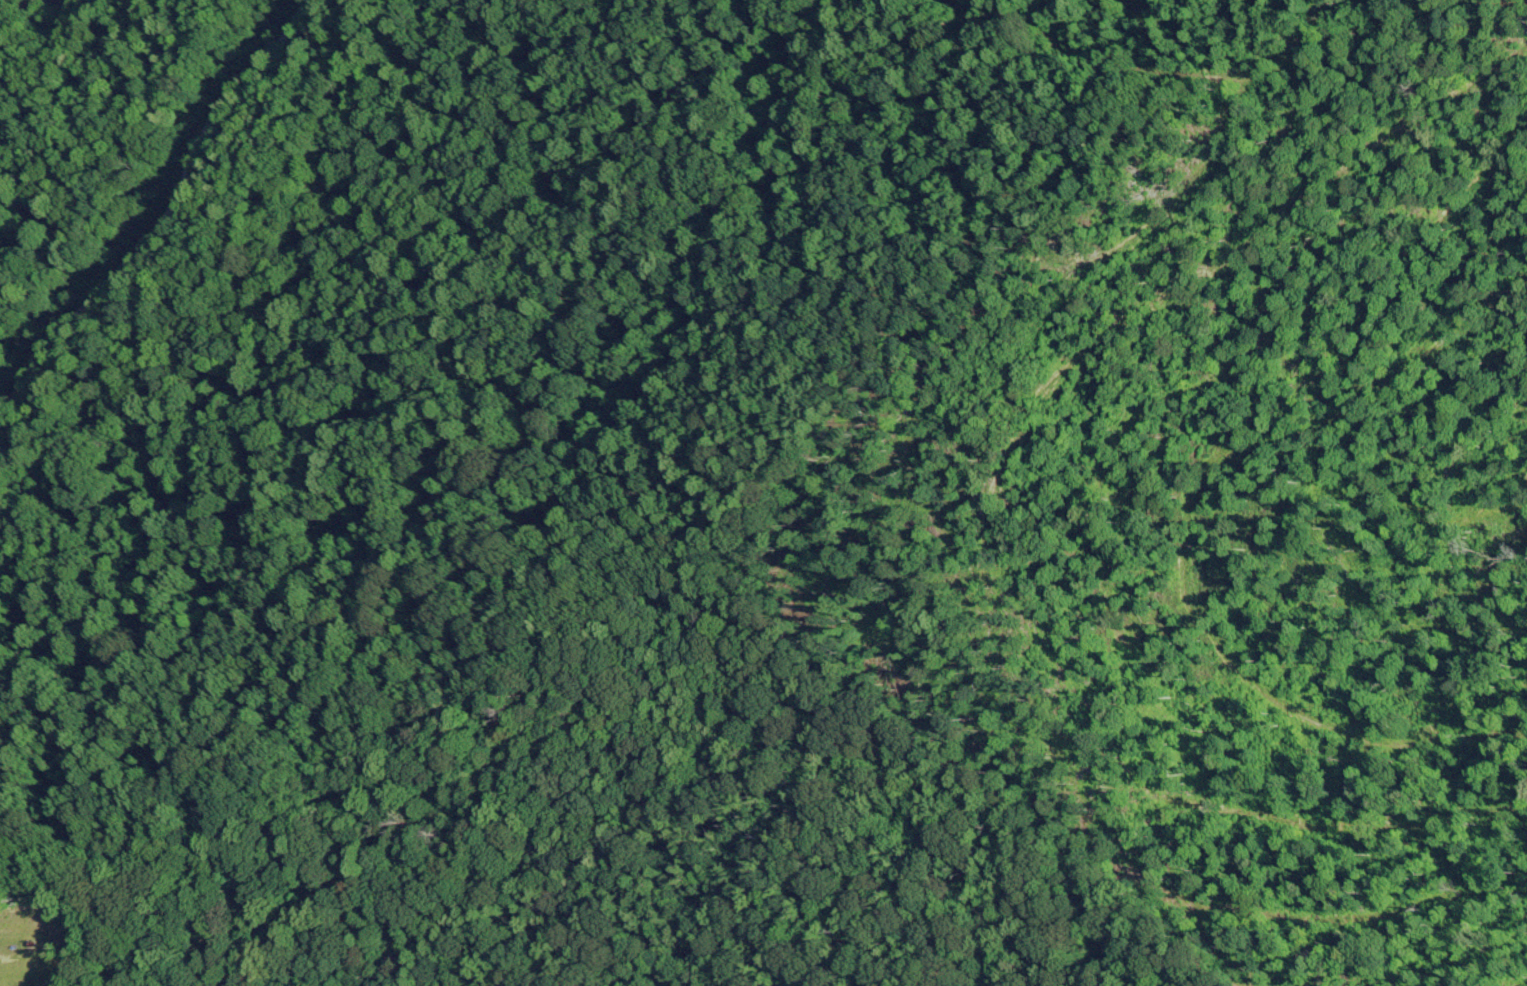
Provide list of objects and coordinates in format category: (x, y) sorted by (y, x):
river: (12, 2)
road: (163, 213)

